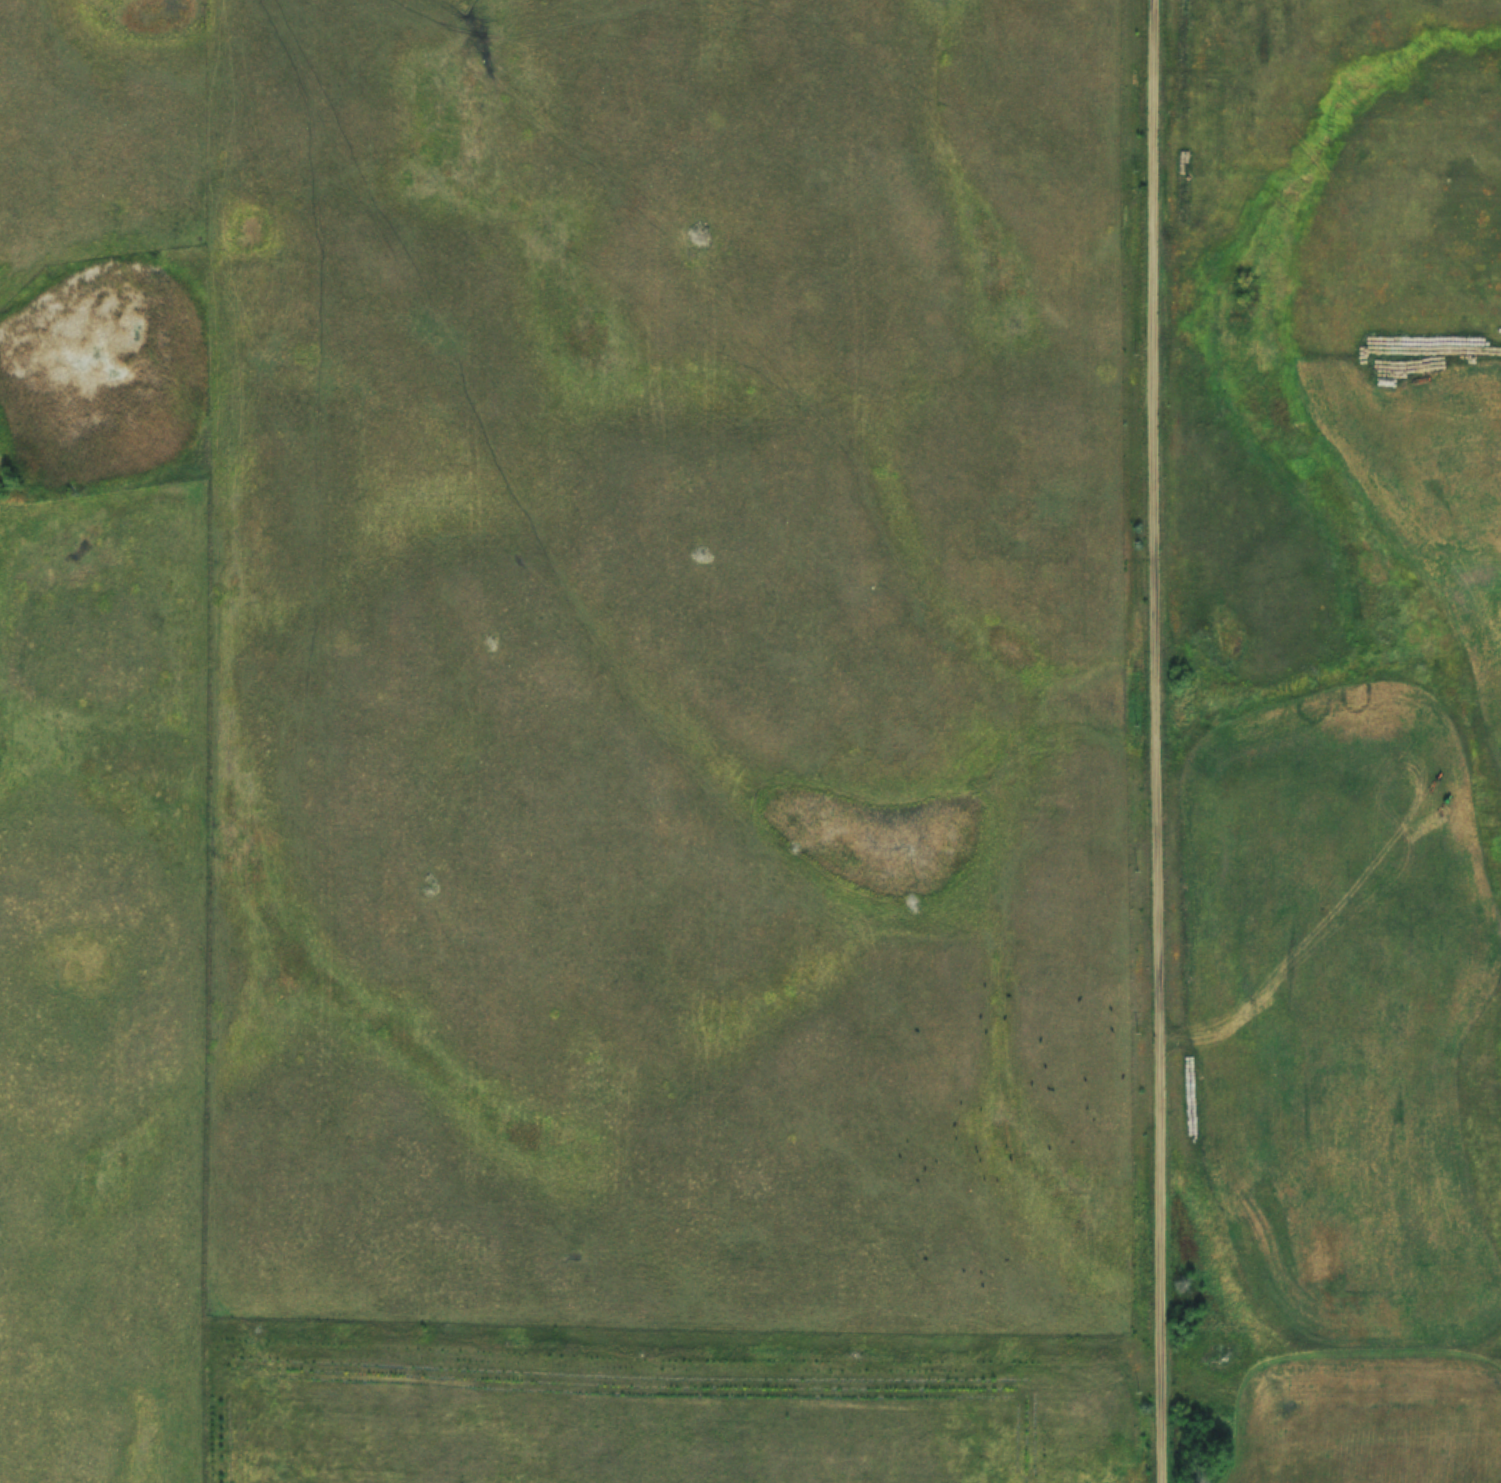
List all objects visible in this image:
road: (1157, 741)
building: (1243, 1076)

